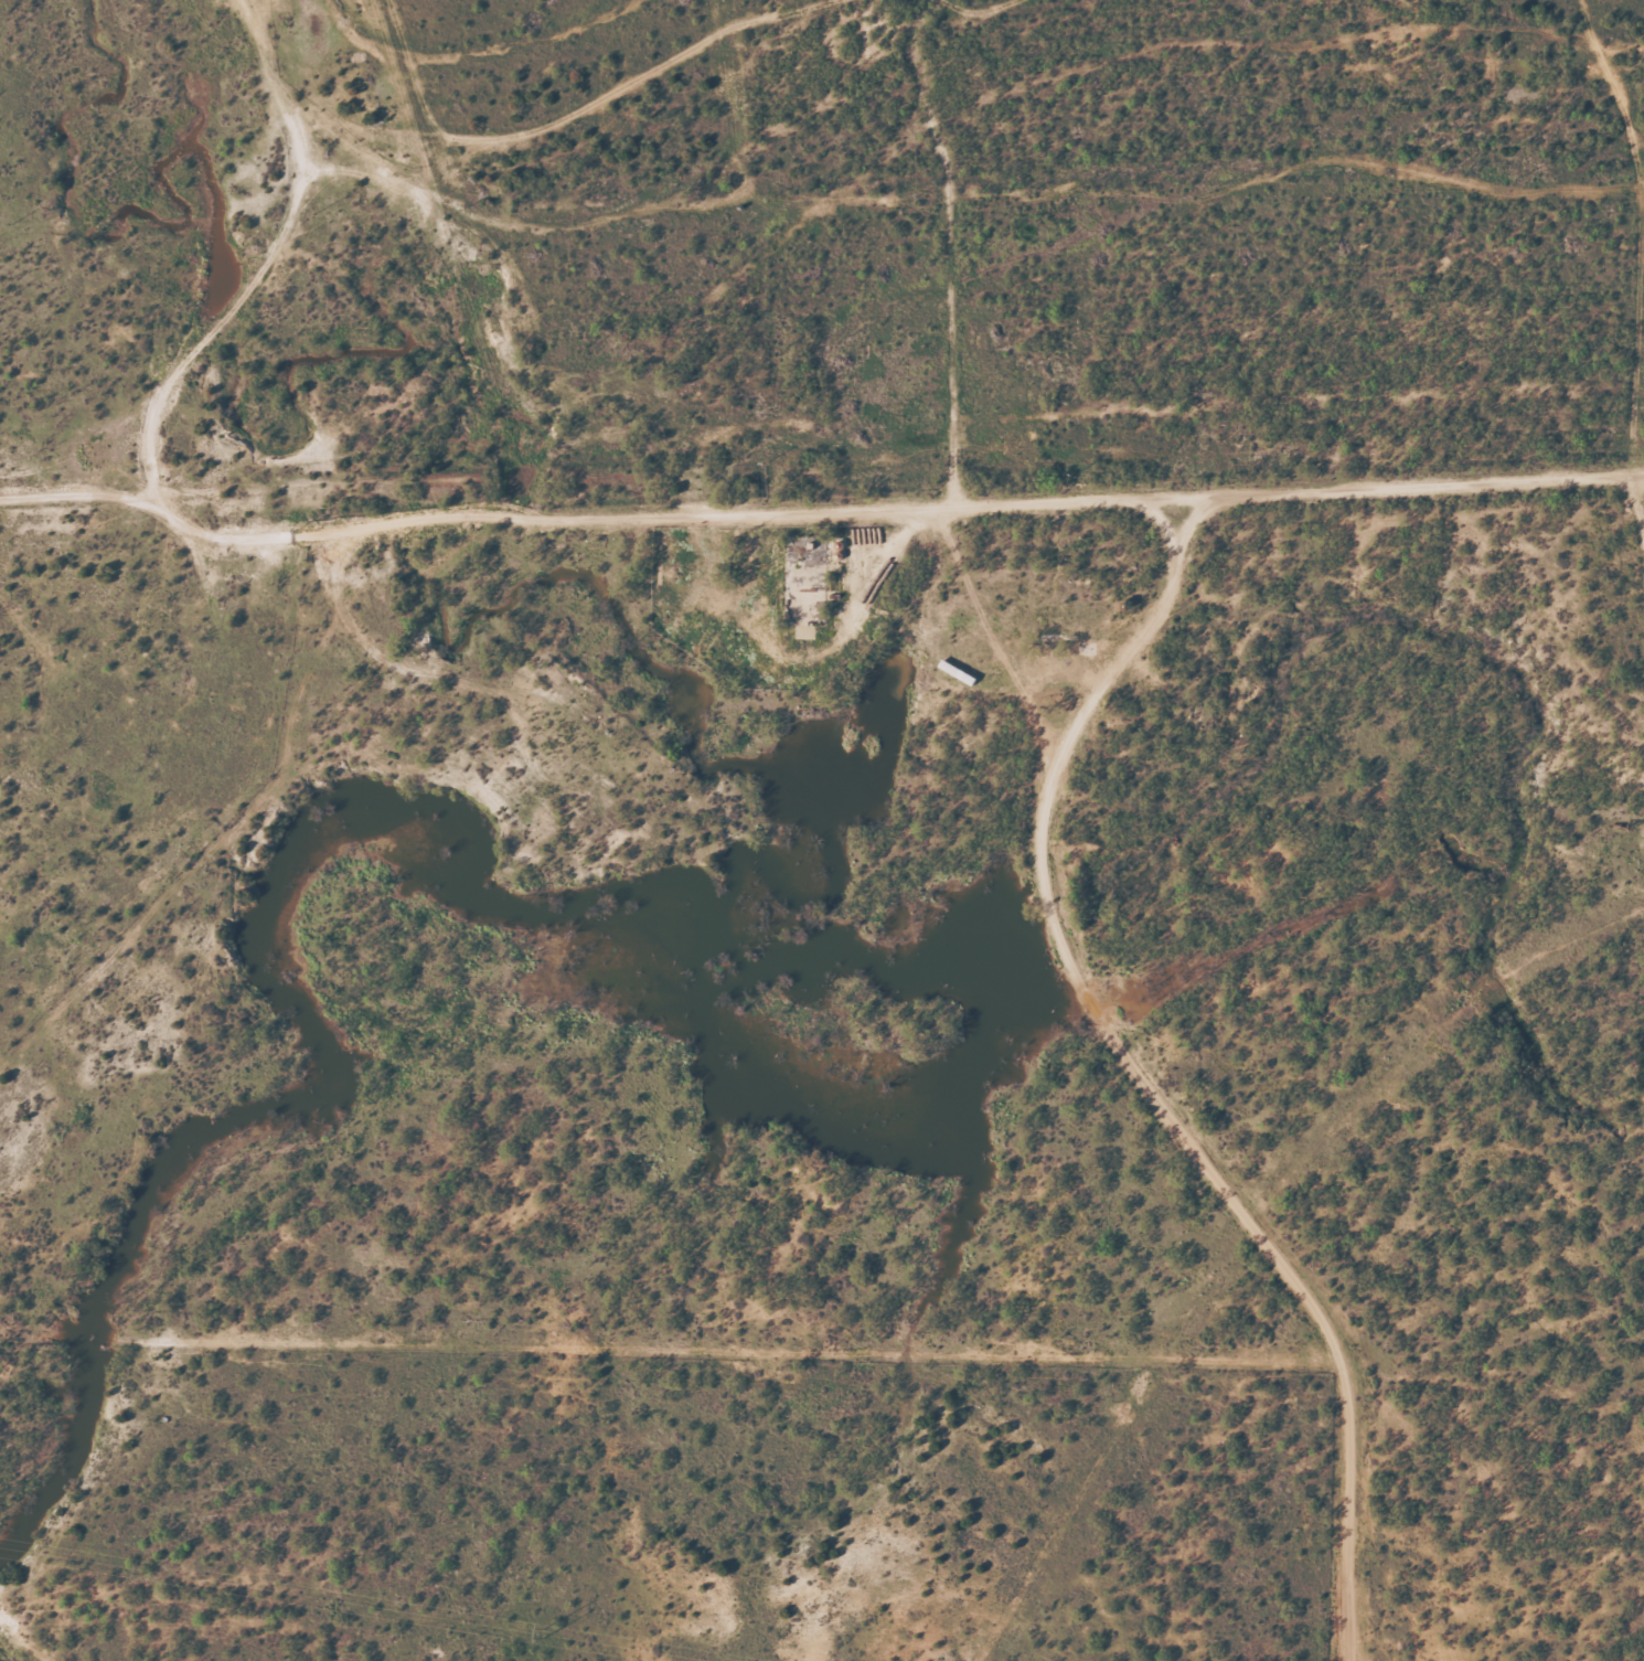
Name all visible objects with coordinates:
road: (600, 550)
road: (1255, 1229)
power tower: (143, 1568)
power tower: (542, 1632)

